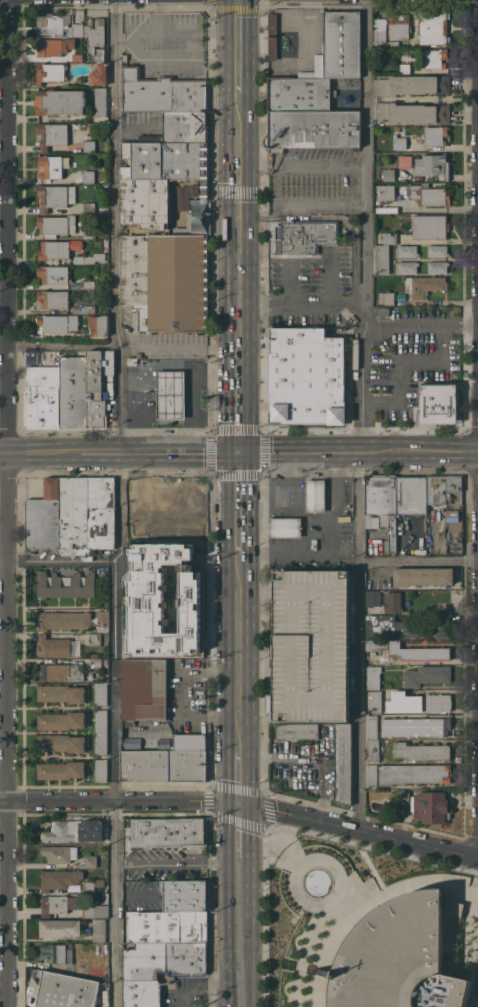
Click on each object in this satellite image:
building: (58, 25)
building: (399, 26)
building: (434, 27)
building: (380, 32)
building: (273, 36)
building: (97, 38)
building: (393, 44)
road: (238, 46)
building: (52, 47)
building: (339, 47)
building: (125, 56)
building: (78, 57)
building: (436, 58)
building: (405, 68)
building: (50, 72)
building: (99, 74)
building: (412, 84)
building: (163, 92)
building: (299, 94)
building: (100, 101)
building: (61, 102)
building: (413, 112)
building: (186, 126)
building: (313, 129)
building: (51, 135)
building: (436, 135)
building: (400, 142)
building: (89, 145)
building: (165, 160)
road: (257, 165)
road: (276, 165)
road: (322, 165)
building: (432, 165)
building: (50, 167)
building: (389, 174)
building: (85, 176)
traffic signals: (239, 190)
building: (385, 193)
building: (186, 195)
building: (429, 195)
building: (56, 196)
building: (89, 208)
building: (387, 209)
road: (239, 224)
building: (57, 225)
building: (430, 226)
building: (89, 234)
building: (305, 237)
building: (390, 238)
building: (57, 249)
building: (407, 251)
building: (437, 251)
building: (90, 258)
building: (382, 258)
building: (165, 259)
building: (407, 266)
building: (438, 266)
building: (53, 274)
road: (329, 280)
building: (91, 284)
road: (289, 285)
building: (425, 285)
building: (386, 297)
building: (52, 298)
road: (303, 304)
building: (89, 309)
building: (56, 323)
building: (99, 325)
road: (420, 326)
road: (59, 343)
road: (178, 350)
building: (139, 355)
building: (133, 362)
road: (399, 364)
road: (159, 369)
building: (306, 376)
building: (43, 389)
building: (96, 390)
building: (73, 391)
building: (170, 394)
road: (194, 395)
building: (439, 403)
road: (240, 404)
road: (361, 415)
road: (197, 419)
road: (169, 420)
road: (37, 450)
road: (157, 450)
road: (420, 451)
traffic signals: (240, 452)
road: (301, 452)
road: (282, 487)
building: (441, 488)
building: (315, 495)
building: (411, 495)
road: (240, 502)
road: (10, 503)
road: (120, 503)
building: (382, 505)
building: (176, 507)
building: (452, 513)
building: (101, 514)
building: (74, 515)
road: (299, 515)
building: (44, 517)
building: (285, 527)
building: (176, 531)
road: (328, 541)
building: (198, 554)
road: (60, 560)
road: (419, 561)
building: (424, 575)
building: (164, 583)
building: (65, 585)
building: (374, 598)
building: (393, 602)
building: (63, 620)
building: (103, 620)
building: (405, 628)
building: (95, 639)
building: (165, 642)
building: (312, 645)
parking lot: (312, 645)
building: (377, 645)
building: (57, 646)
road: (241, 650)
building: (417, 651)
building: (94, 655)
building: (68, 671)
building: (427, 675)
building: (373, 677)
building: (144, 688)
building: (61, 693)
building: (100, 694)
building: (375, 701)
building: (418, 702)
building: (61, 720)
building: (101, 720)
building: (371, 726)
building: (416, 726)
building: (297, 731)
building: (343, 731)
building: (191, 741)
building: (61, 742)
building: (101, 743)
building: (373, 749)
building: (421, 751)
road: (310, 760)
building: (165, 765)
building: (61, 770)
building: (101, 770)
building: (343, 771)
building: (413, 774)
road: (242, 776)
building: (372, 776)
building: (403, 797)
road: (121, 801)
traffic signals: (243, 805)
building: (430, 806)
building: (75, 830)
building: (170, 832)
road: (242, 832)
road: (360, 832)
building: (60, 853)
building: (91, 861)
road: (178, 862)
building: (60, 879)
building: (100, 882)
building: (88, 887)
building: (184, 894)
road: (135, 895)
building: (57, 904)
building: (96, 911)
building: (166, 926)
road: (241, 926)
building: (61, 928)
building: (99, 930)
building: (56, 953)
building: (400, 957)
building: (158, 968)
road: (203, 986)
building: (64, 990)
parking lot: (474, 991)
road: (240, 1000)

